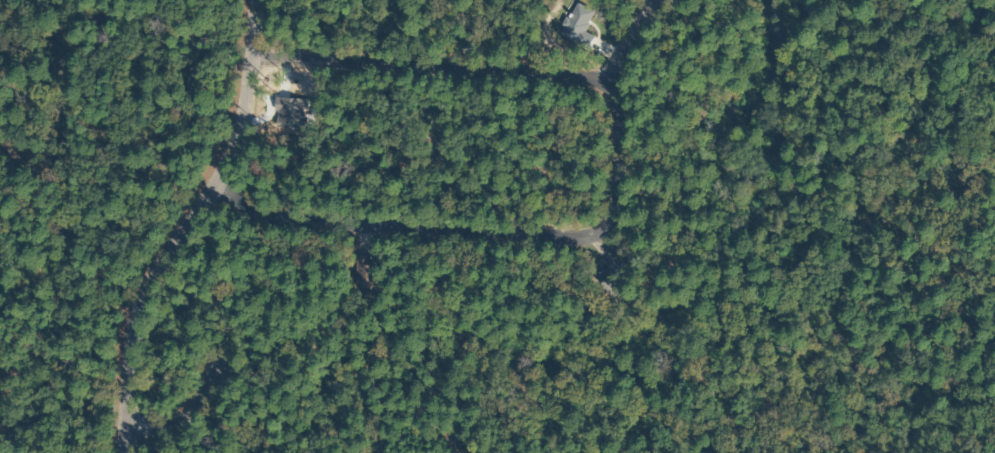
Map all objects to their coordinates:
road: (602, 52)
road: (599, 137)
road: (153, 216)
building: (358, 275)
road: (236, 282)
building: (604, 286)

